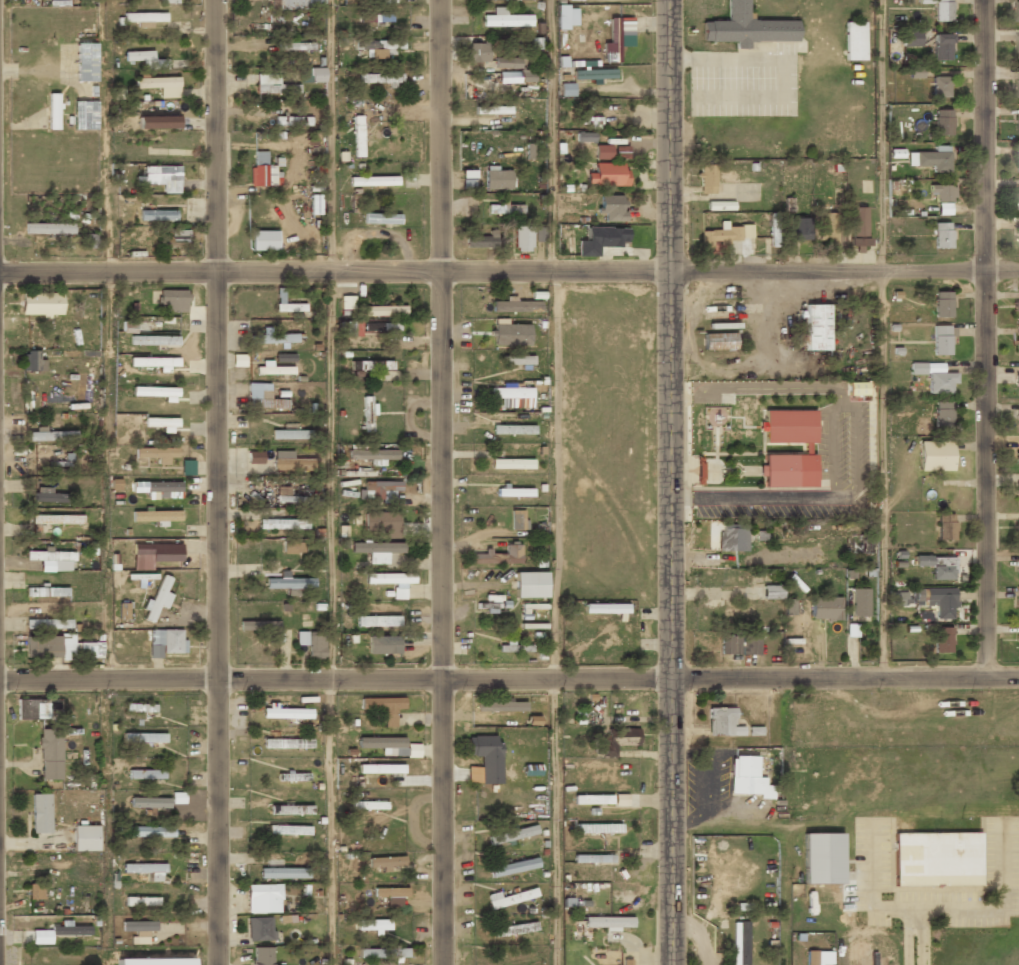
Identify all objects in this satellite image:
building: (578, 0)
building: (388, 1)
building: (168, 2)
building: (300, 4)
building: (941, 11)
building: (1016, 11)
building: (382, 17)
building: (144, 18)
building: (504, 19)
building: (746, 27)
building: (911, 37)
building: (614, 40)
building: (854, 42)
building: (1018, 44)
building: (286, 46)
building: (941, 47)
building: (380, 48)
building: (478, 53)
building: (138, 57)
building: (86, 62)
building: (507, 63)
building: (915, 72)
building: (593, 74)
building: (316, 75)
building: (526, 77)
building: (379, 79)
building: (271, 84)
building: (159, 85)
building: (1017, 85)
building: (939, 87)
building: (495, 110)
building: (52, 112)
building: (255, 112)
building: (85, 116)
building: (292, 121)
building: (588, 121)
building: (157, 122)
building: (941, 123)
building: (1018, 124)
road: (330, 135)
building: (357, 135)
road: (551, 136)
building: (584, 136)
building: (144, 139)
building: (531, 151)
building: (603, 152)
building: (620, 152)
building: (1016, 158)
building: (930, 160)
building: (262, 172)
building: (607, 174)
building: (160, 175)
building: (497, 178)
building: (706, 180)
building: (372, 181)
building: (941, 194)
building: (1017, 198)
building: (611, 204)
building: (719, 205)
building: (944, 208)
building: (503, 210)
building: (157, 215)
building: (381, 218)
building: (857, 226)
building: (828, 227)
building: (48, 228)
building: (774, 229)
building: (798, 229)
building: (1018, 233)
building: (539, 234)
building: (720, 235)
building: (941, 236)
building: (176, 239)
building: (522, 239)
building: (601, 240)
building: (91, 241)
building: (264, 241)
building: (479, 241)
road: (509, 272)
building: (172, 301)
building: (347, 303)
building: (40, 304)
building: (941, 304)
building: (515, 306)
building: (290, 307)
building: (1016, 307)
building: (384, 311)
building: (135, 326)
building: (380, 327)
building: (816, 328)
building: (510, 335)
building: (279, 338)
road: (668, 339)
road: (881, 339)
building: (942, 339)
road: (983, 339)
building: (1017, 340)
building: (153, 341)
building: (718, 342)
building: (285, 357)
building: (516, 361)
building: (32, 362)
building: (153, 362)
building: (372, 366)
building: (273, 370)
building: (934, 376)
building: (1018, 380)
building: (155, 391)
building: (510, 393)
building: (266, 402)
building: (367, 414)
building: (942, 414)
building: (1017, 421)
building: (161, 422)
building: (789, 427)
building: (512, 430)
building: (289, 435)
building: (51, 437)
building: (157, 453)
building: (1017, 454)
building: (372, 455)
building: (935, 455)
building: (255, 458)
building: (292, 463)
building: (512, 464)
building: (187, 467)
building: (789, 471)
road: (331, 475)
road: (555, 475)
road: (216, 482)
road: (441, 482)
building: (155, 487)
building: (381, 490)
building: (514, 492)
building: (281, 495)
building: (1017, 495)
building: (47, 496)
building: (155, 516)
building: (57, 520)
building: (516, 520)
building: (381, 523)
building: (282, 525)
building: (944, 527)
building: (1017, 530)
building: (731, 538)
building: (292, 548)
building: (160, 551)
building: (377, 551)
building: (498, 556)
building: (52, 560)
building: (937, 566)
building: (1018, 568)
building: (389, 579)
building: (289, 583)
building: (530, 585)
building: (46, 593)
building: (770, 593)
building: (397, 594)
building: (157, 599)
building: (939, 601)
building: (859, 603)
building: (1017, 604)
building: (788, 607)
building: (605, 609)
building: (825, 609)
building: (376, 621)
building: (48, 625)
building: (258, 627)
building: (167, 640)
building: (941, 640)
building: (1018, 641)
building: (312, 645)
building: (738, 645)
building: (383, 646)
building: (48, 648)
building: (514, 649)
road: (509, 679)
building: (500, 706)
building: (383, 707)
building: (139, 709)
building: (32, 710)
building: (285, 713)
building: (722, 722)
building: (144, 737)
building: (613, 740)
building: (287, 744)
building: (384, 744)
building: (50, 754)
building: (486, 757)
building: (392, 768)
building: (531, 770)
building: (145, 774)
building: (293, 777)
building: (746, 778)
building: (600, 800)
building: (149, 802)
building: (369, 806)
building: (290, 809)
building: (40, 814)
road: (329, 821)
road: (671, 821)
road: (553, 822)
building: (597, 828)
building: (288, 830)
building: (151, 832)
building: (512, 834)
building: (85, 839)
building: (592, 858)
building: (821, 858)
building: (936, 859)
building: (386, 863)
building: (513, 866)
building: (145, 870)
building: (283, 873)
building: (35, 891)
building: (391, 894)
building: (512, 897)
building: (263, 900)
building: (141, 902)
building: (373, 925)
building: (608, 925)
building: (513, 929)
building: (138, 930)
building: (259, 930)
building: (70, 931)
building: (740, 943)
building: (368, 953)
building: (398, 954)
building: (262, 956)
building: (810, 958)
building: (512, 959)
building: (155, 961)
building: (625, 963)

